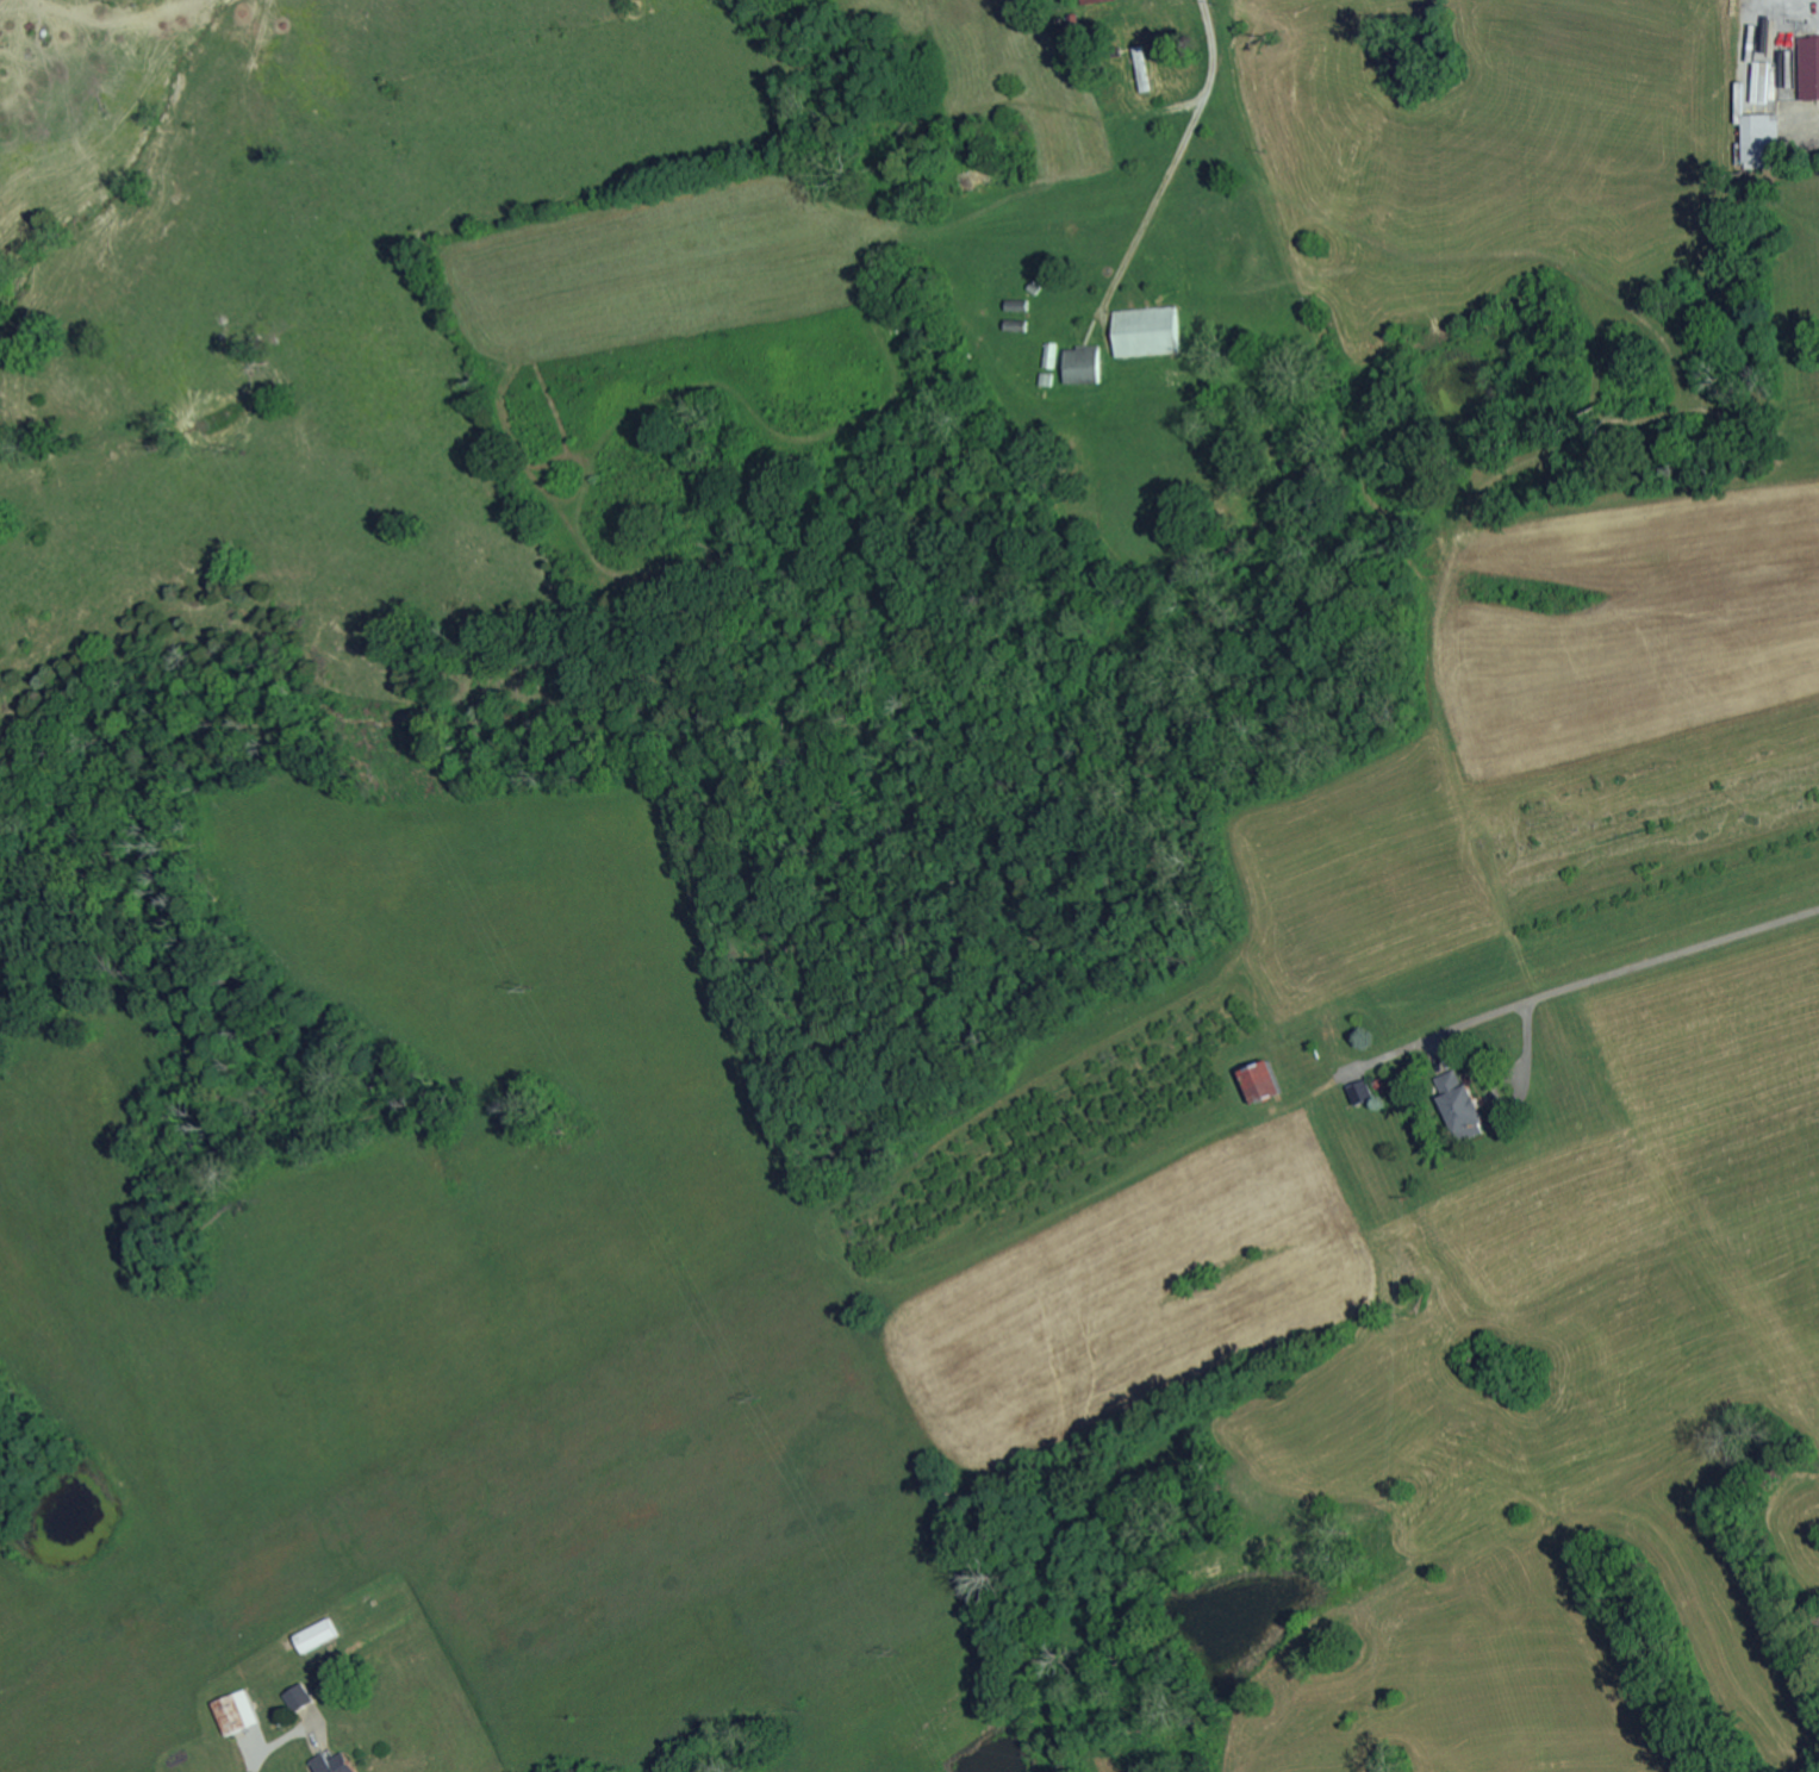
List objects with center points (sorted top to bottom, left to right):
building: (1088, 0)
building: (1808, 67)
building: (1140, 68)
building: (1758, 82)
building: (1770, 87)
building: (1757, 141)
road: (1185, 152)
building: (1142, 331)
building: (1048, 355)
building: (1079, 364)
road: (1612, 977)
building: (1256, 1080)
building: (1356, 1091)
building: (1456, 1103)
building: (295, 1697)
building: (233, 1711)
road: (267, 1752)
building: (330, 1764)

